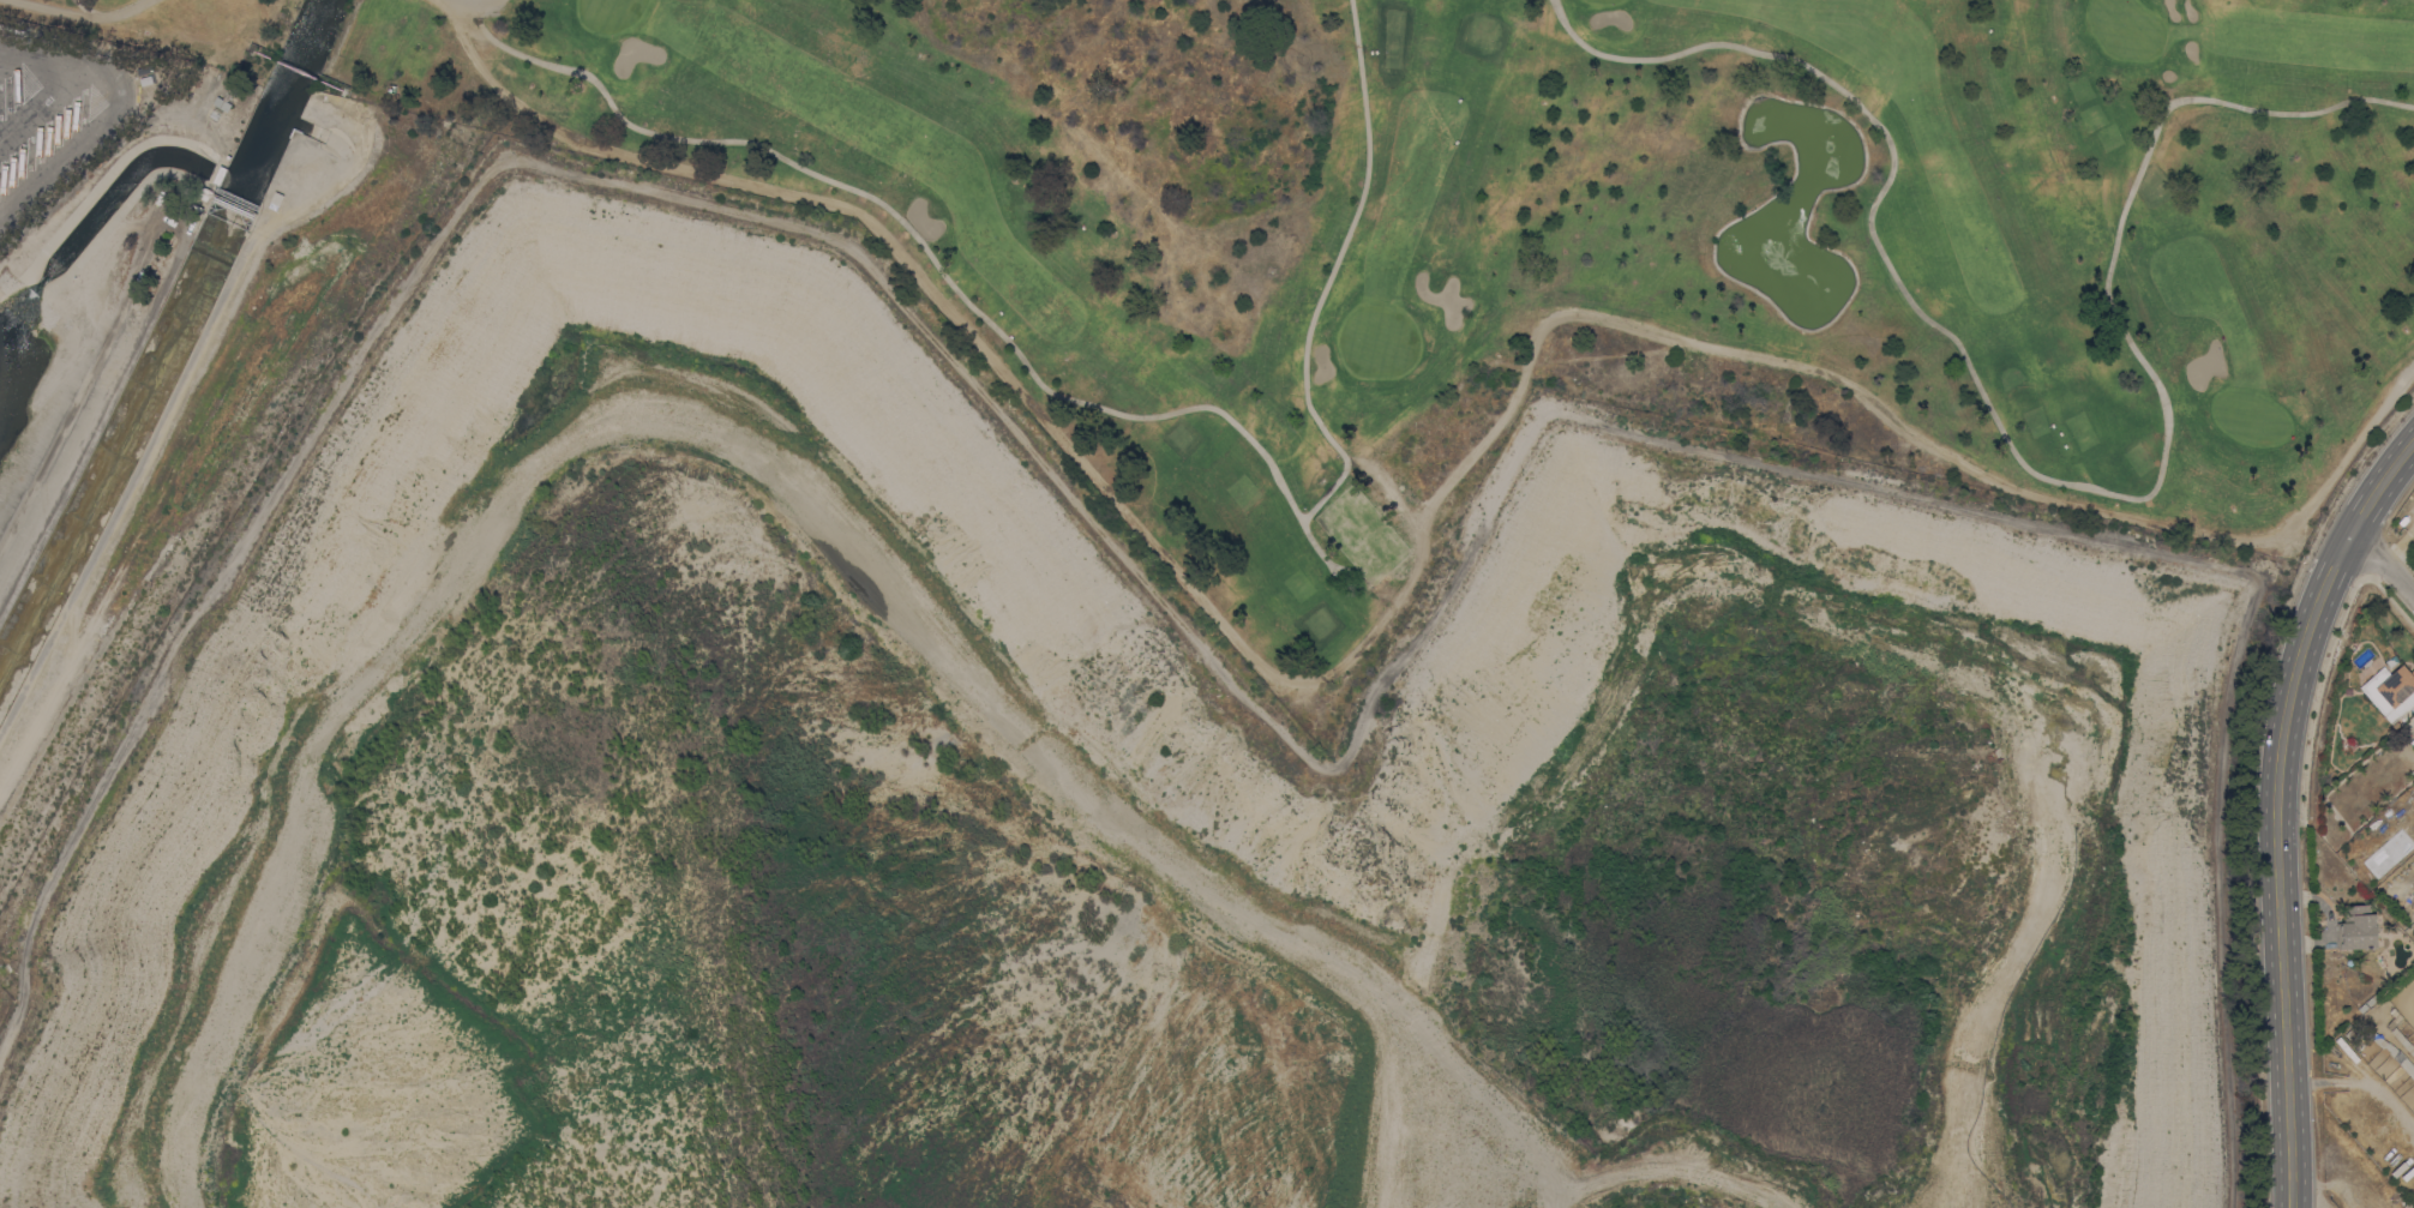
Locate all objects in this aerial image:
road: (485, 1)
park: (1596, 1)
road: (86, 8)
park: (218, 13)
park: (609, 13)
road: (85, 16)
park: (2125, 28)
road: (8, 53)
building: (144, 68)
building: (145, 79)
building: (228, 95)
road: (43, 102)
building: (222, 103)
road: (112, 109)
building: (216, 113)
parking lot: (50, 114)
park: (2110, 139)
building: (221, 175)
building: (204, 193)
building: (275, 198)
road: (914, 233)
park: (1523, 234)
road: (1322, 293)
park: (1375, 339)
road: (83, 387)
road: (173, 396)
park: (2248, 415)
park: (2092, 443)
road: (2034, 474)
road: (768, 475)
park: (1227, 481)
road: (1082, 505)
road: (1301, 521)
park: (1358, 531)
road: (2382, 567)
road: (1349, 581)
park: (1308, 602)
road: (1346, 659)
building: (2396, 685)
building: (2413, 734)
quarry: (1099, 803)
road: (2275, 807)
building: (2356, 927)
building: (2401, 1059)
road: (1667, 1150)
road: (2323, 1182)
building: (2407, 1206)

